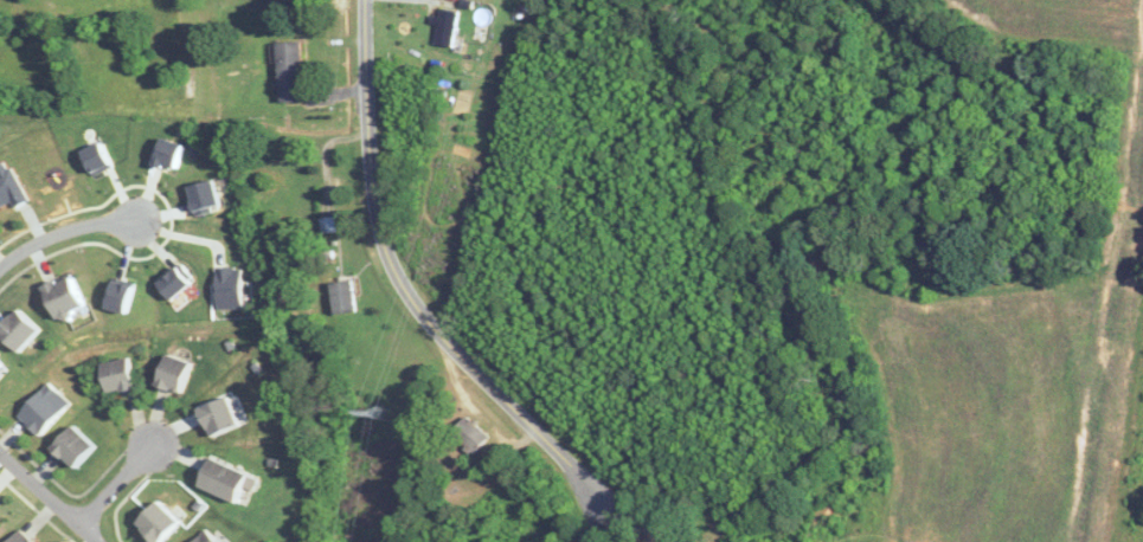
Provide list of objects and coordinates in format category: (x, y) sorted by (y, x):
building: (289, 0)
building: (449, 27)
building: (296, 72)
road: (7, 118)
building: (332, 225)
road: (65, 233)
building: (62, 296)
building: (343, 297)
road: (424, 312)
building: (17, 329)
building: (173, 373)
building: (116, 374)
building: (41, 409)
power tower: (377, 411)
building: (219, 414)
building: (469, 434)
building: (71, 446)
building: (220, 478)
road: (115, 486)
road: (47, 496)
building: (155, 522)
building: (18, 537)
building: (204, 537)

